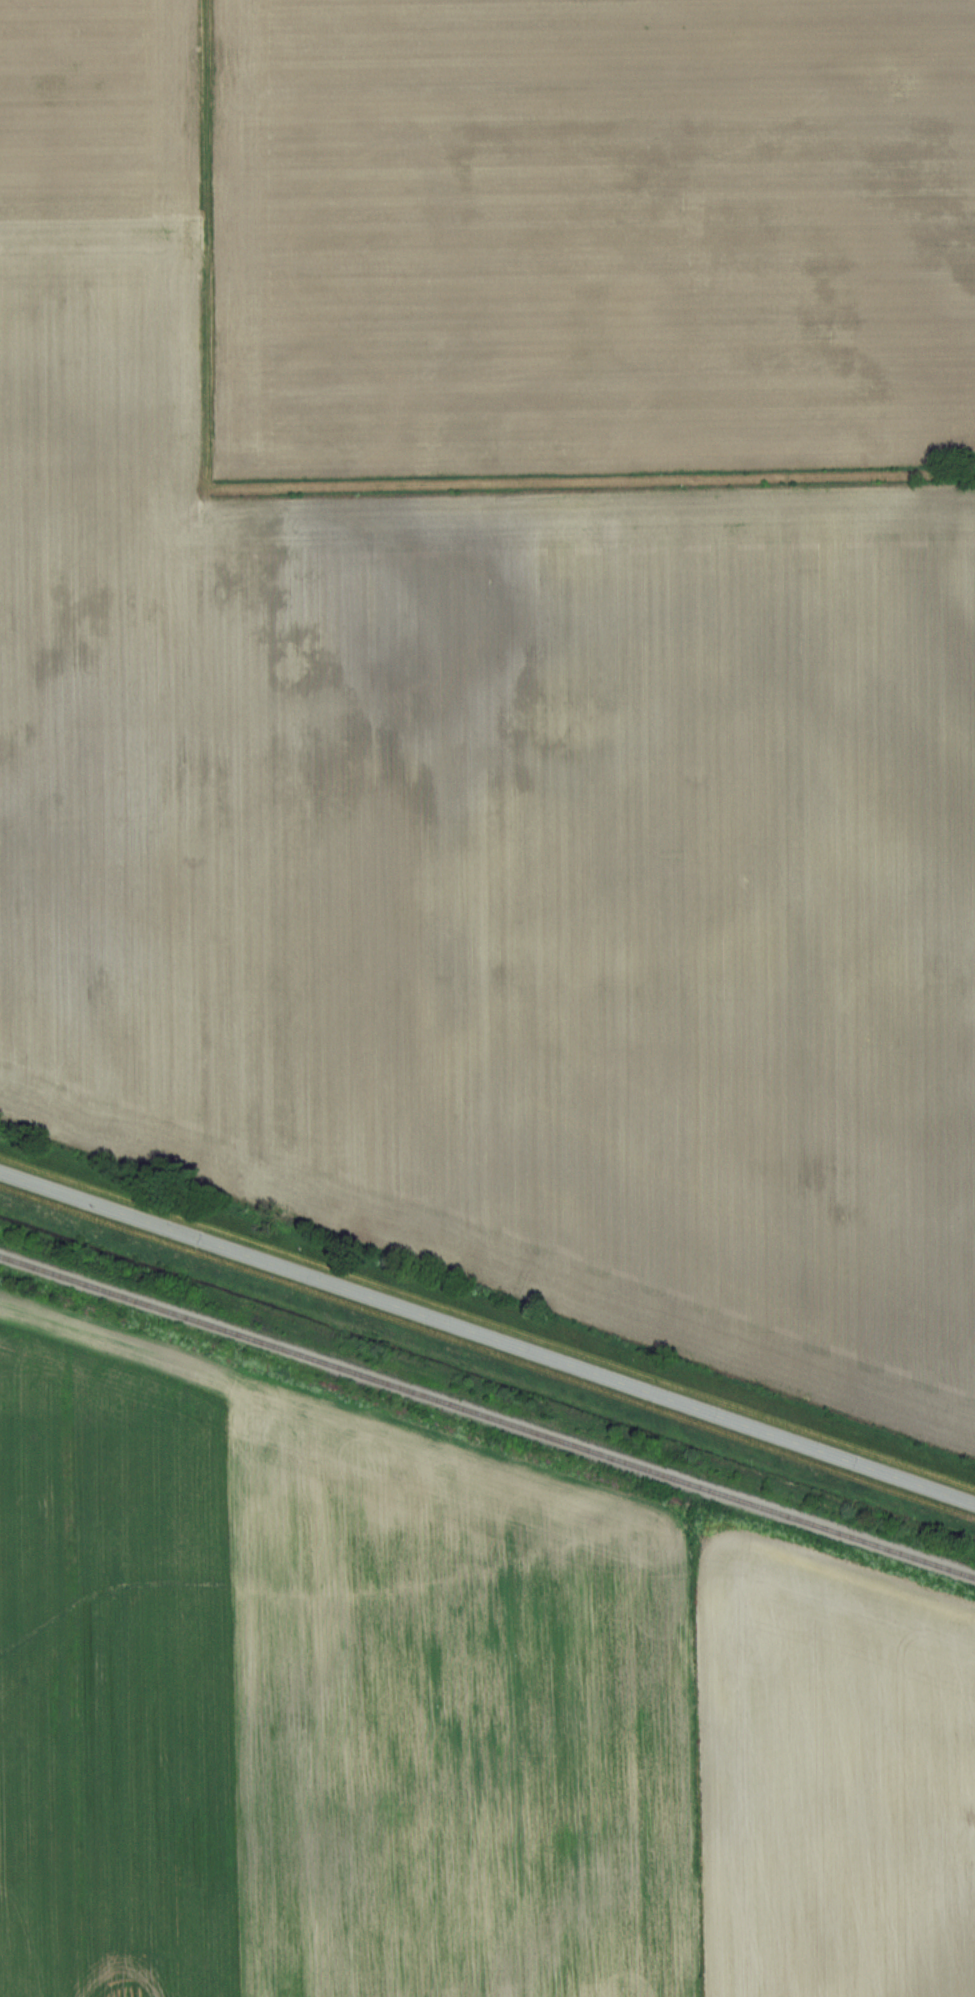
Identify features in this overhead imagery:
road: (487, 1337)
railway: (487, 1417)

